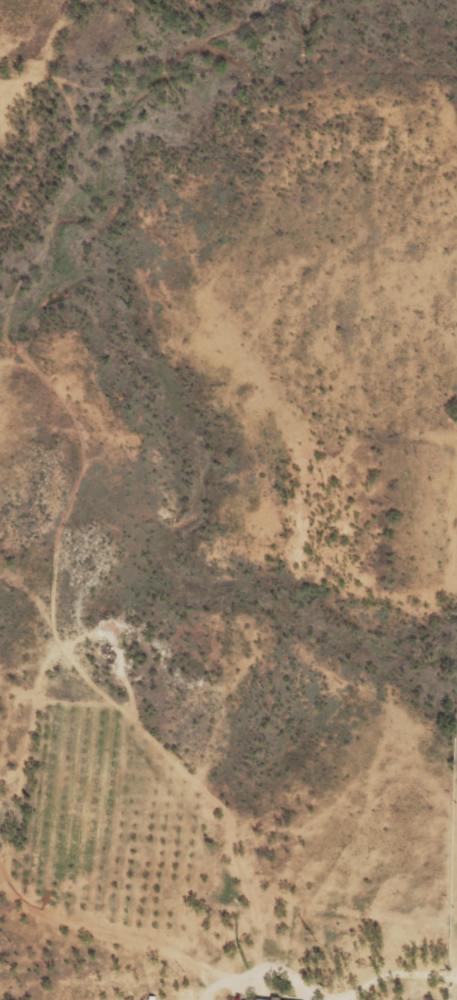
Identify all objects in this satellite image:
road: (150, 810)
power tower: (316, 937)
road: (367, 983)

